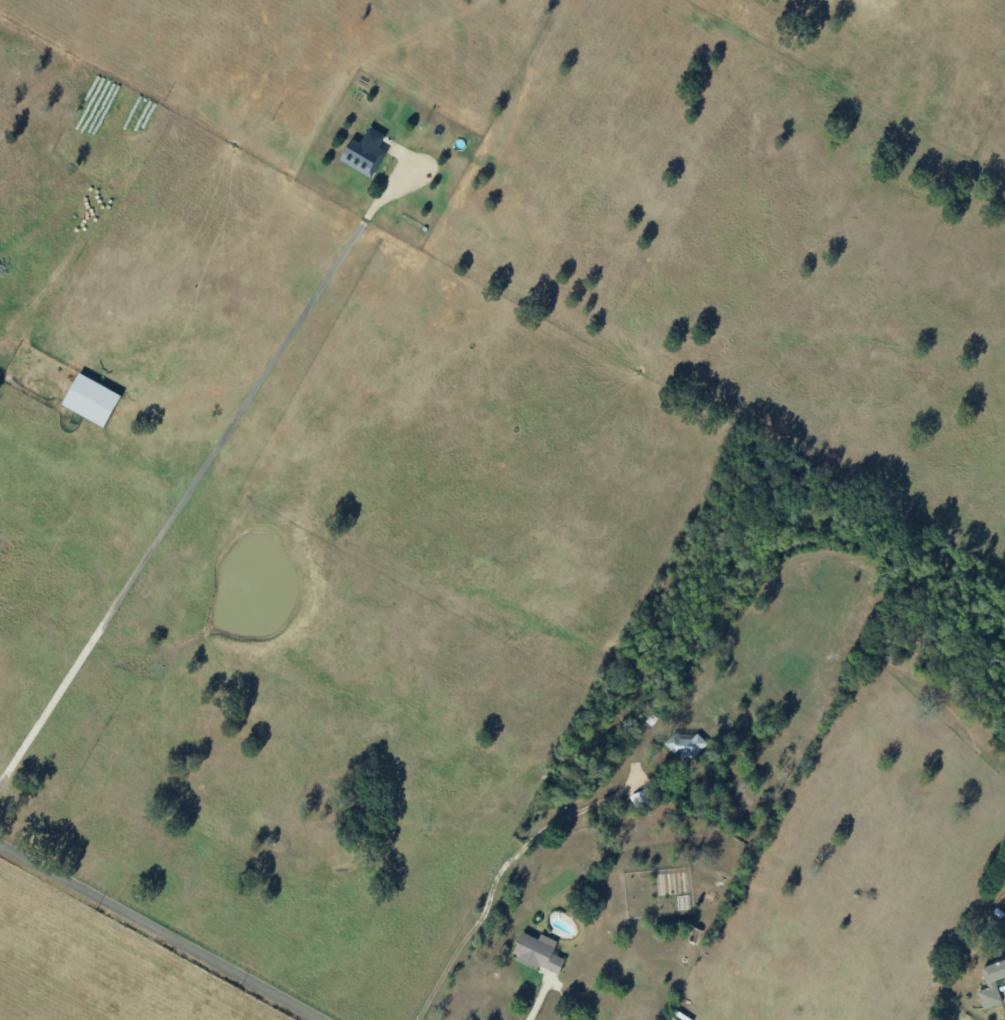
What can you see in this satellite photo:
building: (365, 153)
building: (90, 400)
road: (192, 489)
building: (688, 746)
road: (154, 932)
building: (538, 952)
building: (991, 983)
road: (542, 1009)

